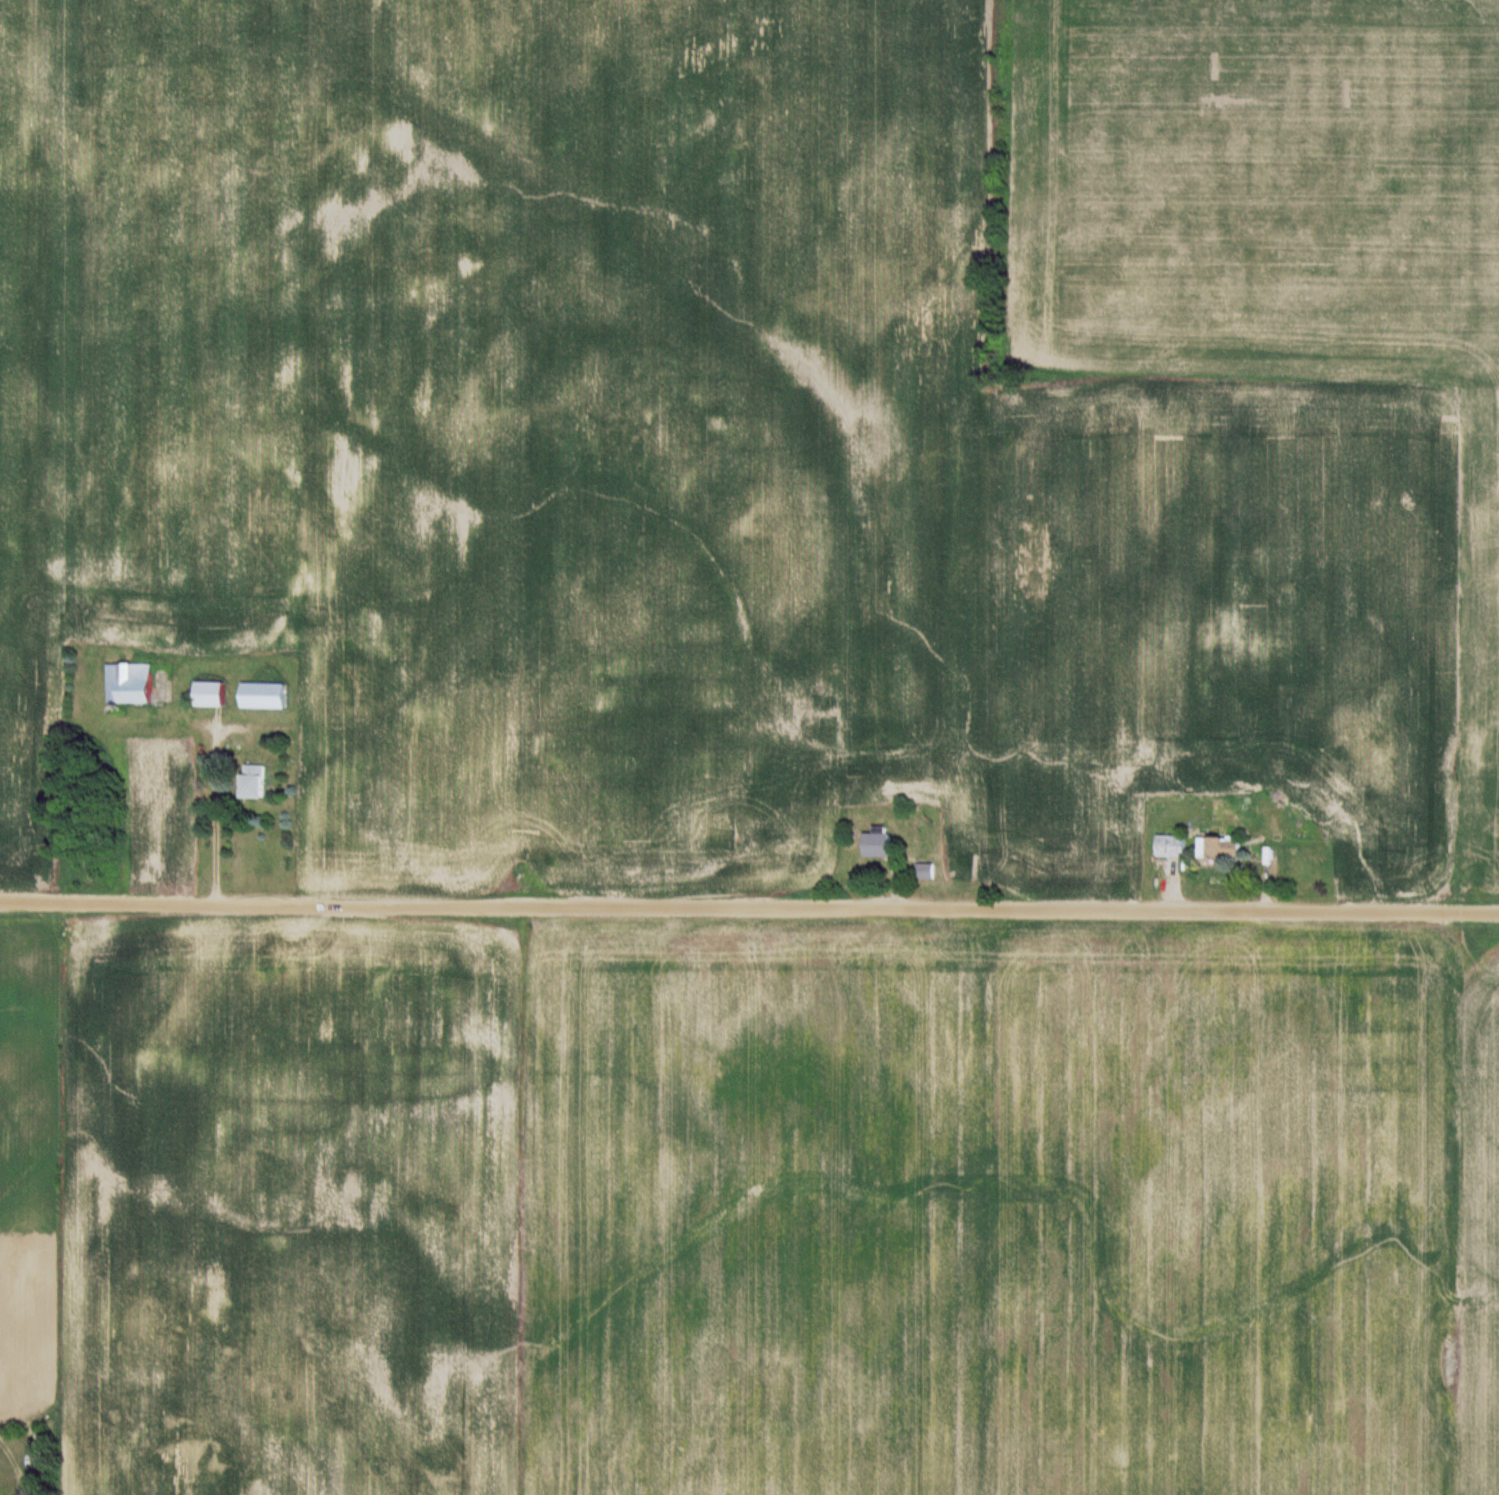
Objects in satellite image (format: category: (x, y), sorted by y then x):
building: (132, 684)
building: (214, 695)
building: (268, 696)
building: (258, 783)
road: (213, 815)
building: (881, 841)
building: (1173, 846)
building: (1224, 847)
building: (927, 870)
road: (749, 908)

